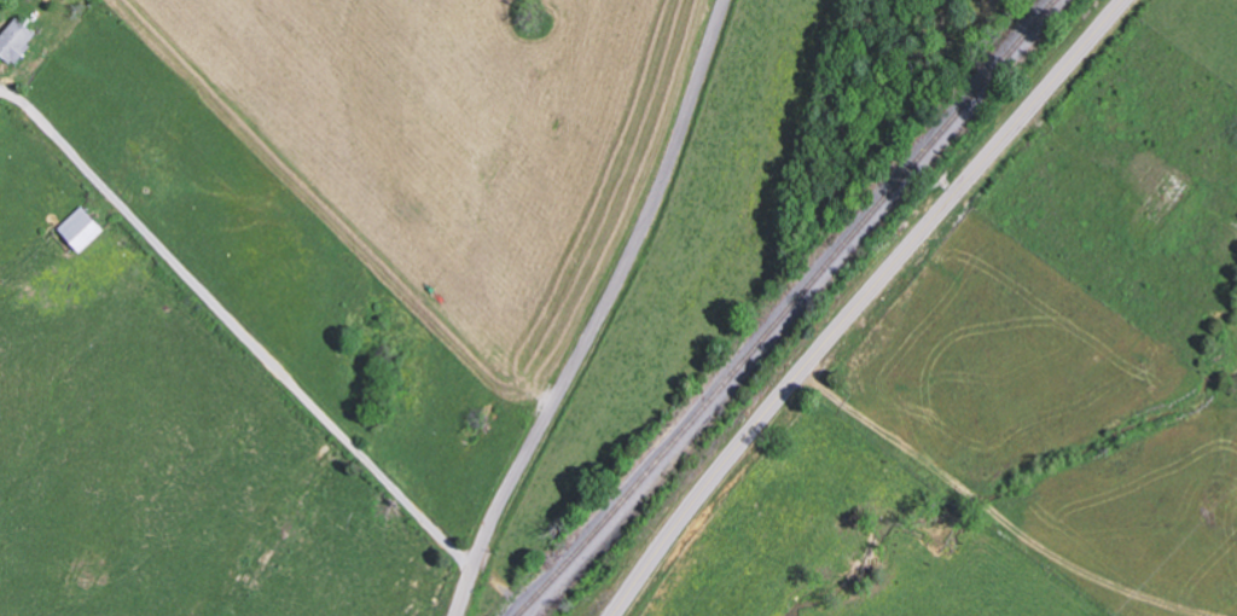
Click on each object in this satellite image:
building: (18, 41)
building: (83, 229)
road: (863, 302)
railway: (788, 309)
road: (603, 313)

